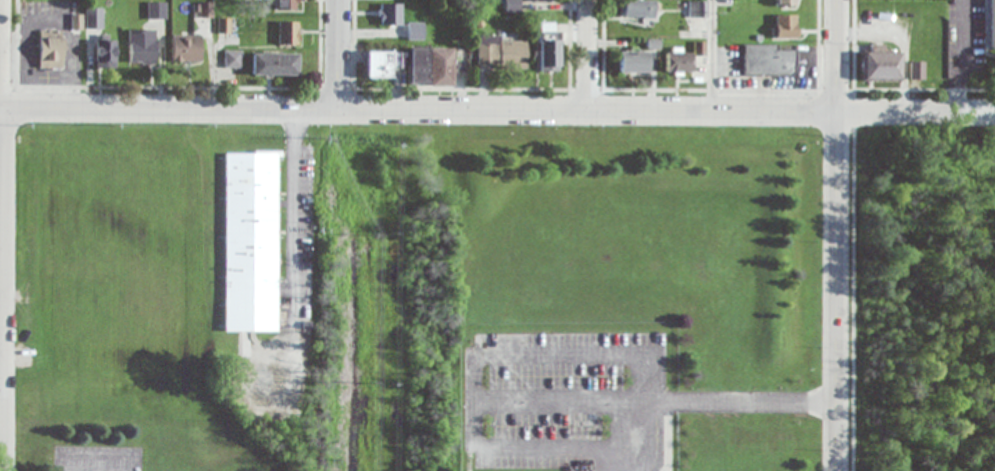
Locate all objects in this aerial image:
building: (539, 1)
building: (785, 2)
building: (287, 4)
building: (512, 6)
building: (638, 8)
building: (697, 9)
building: (156, 10)
building: (390, 14)
building: (94, 18)
building: (991, 24)
building: (784, 26)
building: (415, 31)
building: (288, 32)
building: (141, 46)
building: (548, 47)
building: (186, 48)
building: (51, 49)
building: (105, 51)
building: (501, 52)
road: (336, 54)
road: (463, 54)
road: (586, 54)
road: (713, 54)
road: (835, 54)
road: (961, 55)
building: (233, 59)
building: (768, 60)
building: (633, 62)
building: (677, 62)
building: (274, 64)
building: (382, 64)
building: (881, 65)
building: (431, 66)
building: (916, 70)
road: (168, 108)
road: (585, 108)
road: (914, 110)
building: (251, 242)
road: (834, 289)
power plant: (391, 297)
park: (925, 298)
road: (511, 356)

